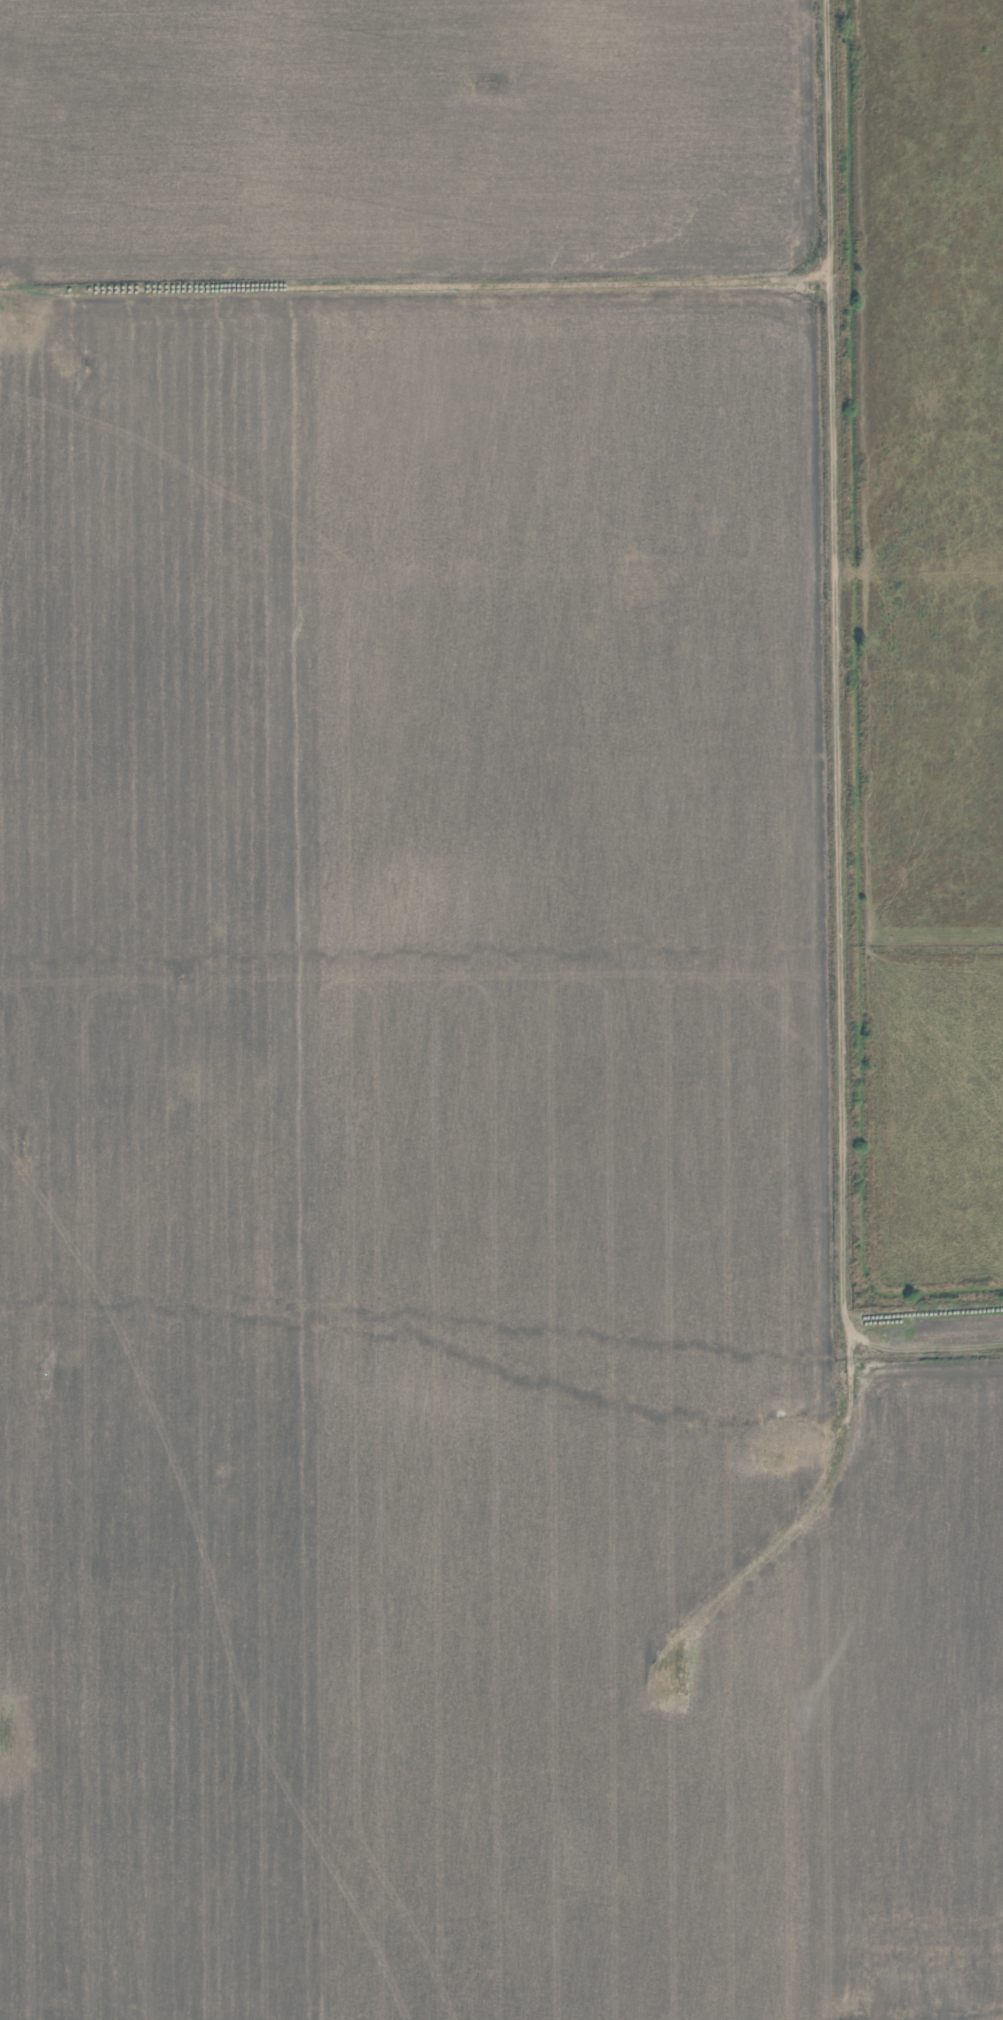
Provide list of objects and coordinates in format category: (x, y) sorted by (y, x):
road: (833, 661)

